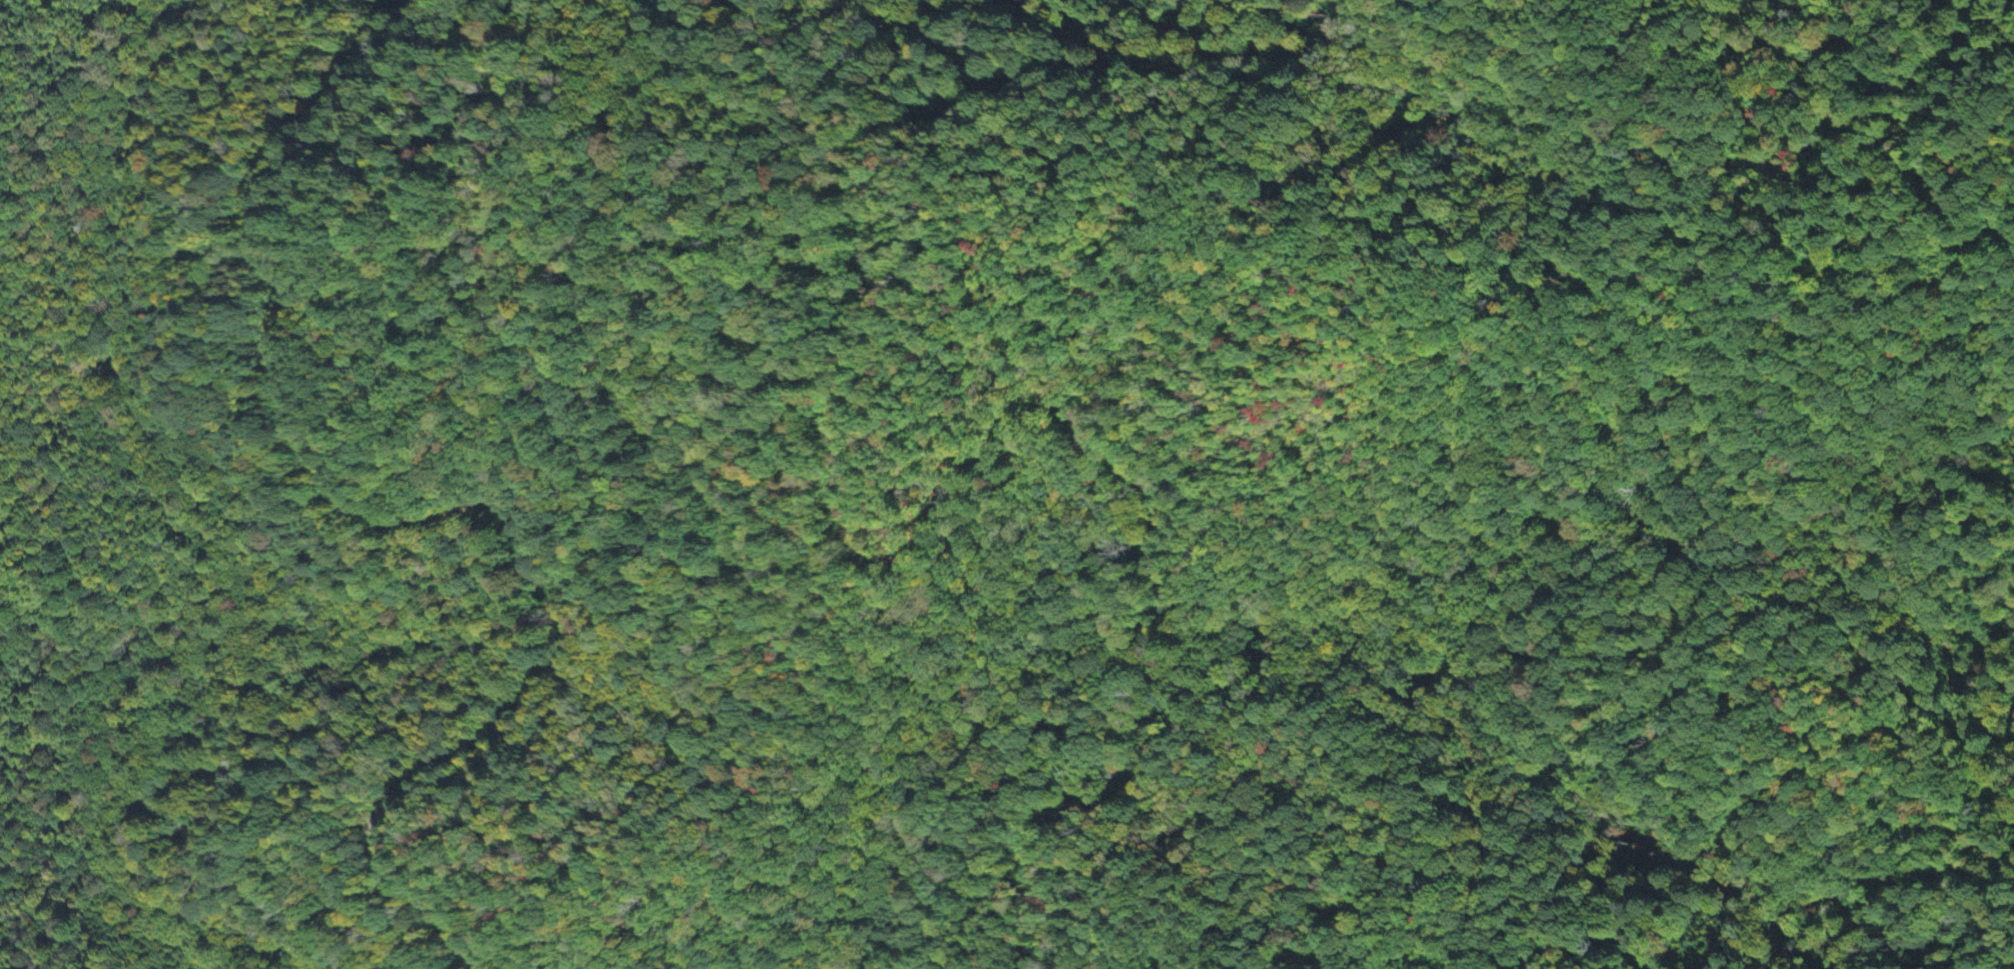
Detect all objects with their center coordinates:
road: (852, 556)

